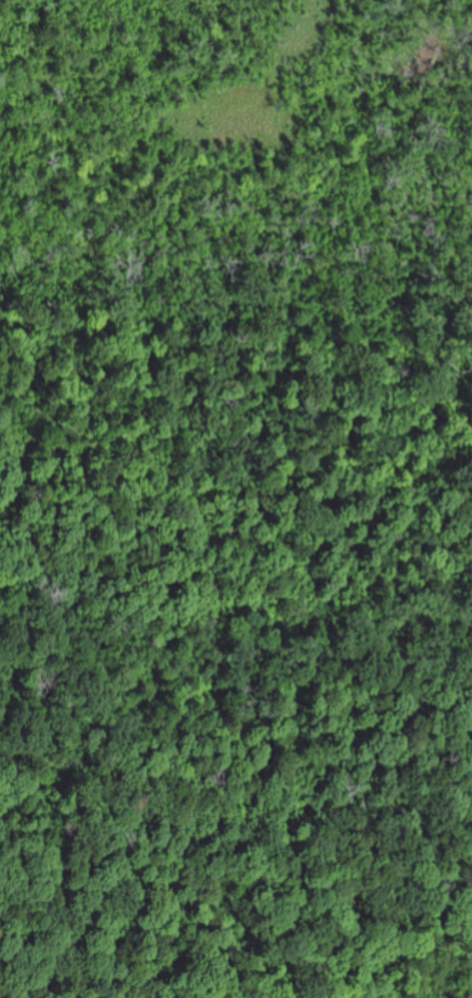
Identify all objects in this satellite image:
road: (236, 252)
park: (236, 499)

